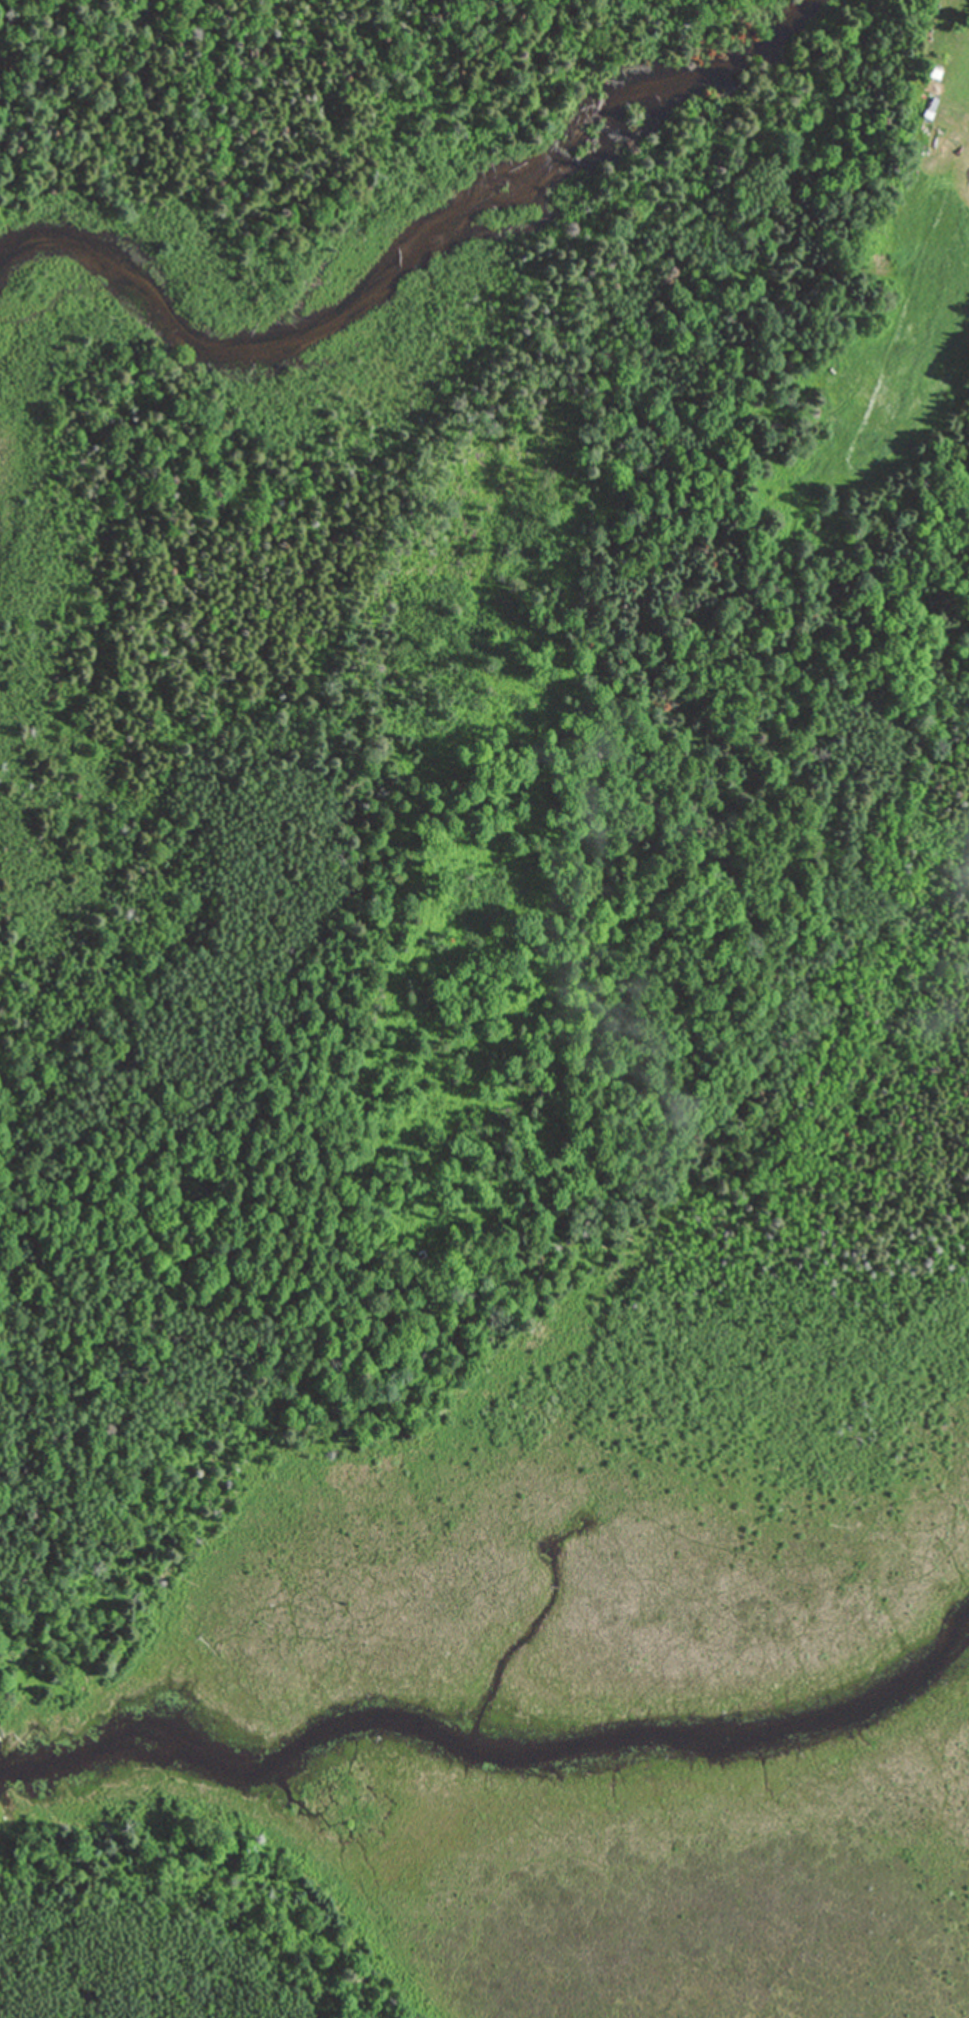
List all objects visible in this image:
river: (403, 245)
river: (484, 1740)

